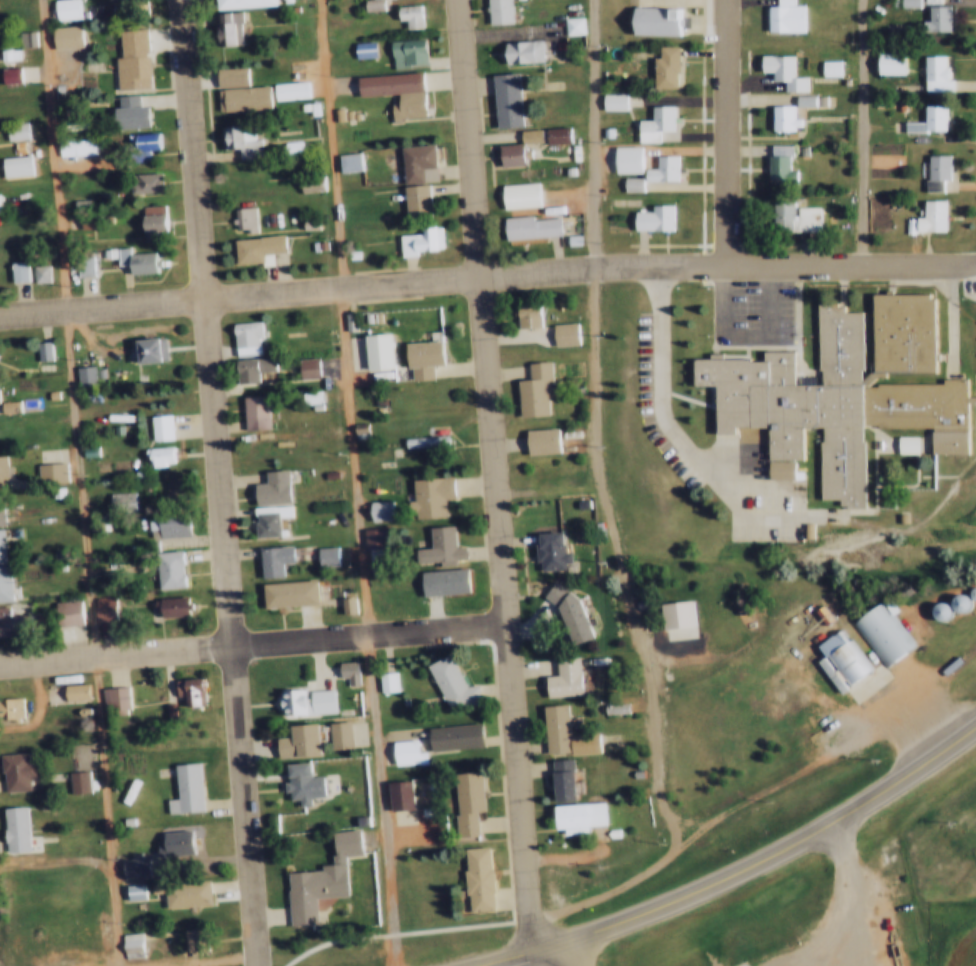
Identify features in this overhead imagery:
building: (889, 3)
building: (904, 3)
building: (239, 4)
building: (368, 5)
building: (61, 9)
building: (498, 12)
building: (406, 16)
building: (781, 17)
building: (932, 19)
building: (652, 23)
building: (568, 26)
building: (225, 28)
building: (143, 32)
building: (63, 36)
building: (21, 38)
building: (360, 50)
building: (519, 52)
building: (6, 53)
building: (403, 53)
building: (127, 57)
building: (887, 64)
building: (670, 67)
building: (825, 67)
building: (929, 73)
building: (6, 74)
building: (225, 77)
building: (783, 78)
building: (284, 89)
building: (392, 91)
building: (238, 98)
building: (503, 100)
building: (609, 102)
building: (298, 105)
building: (307, 107)
building: (125, 112)
building: (332, 113)
building: (341, 114)
building: (349, 115)
building: (778, 118)
building: (921, 120)
building: (651, 124)
building: (12, 130)
road: (730, 132)
building: (602, 133)
road: (863, 133)
building: (552, 134)
building: (526, 135)
building: (234, 137)
building: (70, 143)
building: (136, 143)
building: (11, 145)
building: (286, 146)
building: (793, 148)
building: (507, 156)
building: (623, 160)
building: (344, 161)
building: (773, 162)
building: (12, 164)
building: (657, 169)
building: (940, 170)
building: (563, 171)
building: (930, 171)
building: (412, 178)
building: (140, 181)
building: (306, 182)
building: (627, 183)
building: (73, 200)
building: (521, 214)
building: (926, 215)
building: (789, 216)
building: (147, 217)
building: (239, 218)
building: (649, 218)
building: (82, 219)
building: (92, 221)
building: (304, 221)
building: (902, 223)
building: (568, 239)
building: (415, 242)
building: (253, 246)
building: (5, 248)
building: (129, 258)
building: (89, 260)
building: (79, 261)
building: (13, 270)
building: (22, 271)
building: (35, 272)
building: (44, 274)
road: (487, 276)
building: (523, 315)
building: (343, 321)
building: (558, 332)
building: (240, 335)
building: (37, 349)
building: (372, 349)
building: (46, 351)
building: (143, 351)
building: (418, 356)
building: (301, 365)
building: (243, 367)
building: (311, 368)
building: (93, 370)
building: (79, 374)
building: (528, 387)
building: (835, 387)
road: (601, 388)
road: (661, 390)
building: (46, 392)
building: (0, 396)
building: (6, 405)
building: (248, 408)
building: (153, 425)
building: (163, 427)
building: (111, 428)
building: (354, 431)
building: (412, 438)
building: (535, 438)
building: (894, 439)
building: (266, 449)
building: (152, 453)
building: (163, 456)
building: (130, 470)
building: (44, 471)
building: (322, 471)
building: (0, 474)
road: (494, 478)
road: (358, 482)
road: (83, 483)
road: (221, 483)
building: (265, 485)
building: (177, 489)
building: (424, 492)
building: (114, 498)
building: (574, 500)
building: (125, 501)
building: (373, 506)
building: (2, 508)
building: (262, 517)
building: (162, 523)
building: (367, 534)
building: (434, 543)
building: (545, 548)
building: (319, 553)
building: (330, 556)
building: (267, 557)
building: (162, 566)
building: (435, 577)
building: (2, 582)
building: (968, 589)
silo: (968, 589)
building: (282, 591)
building: (961, 600)
building: (340, 601)
building: (953, 601)
silo: (953, 601)
building: (166, 603)
building: (351, 604)
building: (98, 605)
building: (108, 607)
building: (559, 607)
building: (934, 609)
silo: (934, 609)
building: (60, 610)
building: (668, 611)
building: (572, 612)
building: (10, 625)
building: (872, 632)
road: (252, 640)
building: (895, 645)
building: (838, 655)
building: (339, 663)
building: (352, 671)
building: (557, 674)
building: (378, 678)
building: (444, 679)
building: (390, 681)
building: (183, 687)
building: (67, 688)
building: (78, 691)
building: (105, 696)
building: (300, 699)
building: (117, 701)
building: (608, 701)
building: (161, 705)
building: (75, 706)
building: (7, 707)
road: (865, 714)
building: (557, 729)
building: (331, 730)
building: (447, 733)
building: (343, 735)
building: (292, 738)
building: (399, 749)
building: (13, 768)
building: (554, 775)
building: (70, 778)
building: (565, 779)
building: (296, 780)
building: (81, 781)
building: (178, 786)
building: (393, 792)
building: (459, 798)
building: (403, 802)
building: (570, 813)
building: (119, 817)
building: (354, 817)
building: (10, 827)
building: (168, 842)
building: (69, 844)
building: (127, 864)
building: (137, 867)
road: (745, 869)
building: (471, 875)
building: (313, 879)
building: (128, 889)
building: (178, 889)
building: (138, 892)
road: (860, 903)
building: (188, 936)
building: (125, 942)
building: (135, 945)
road: (585, 953)

